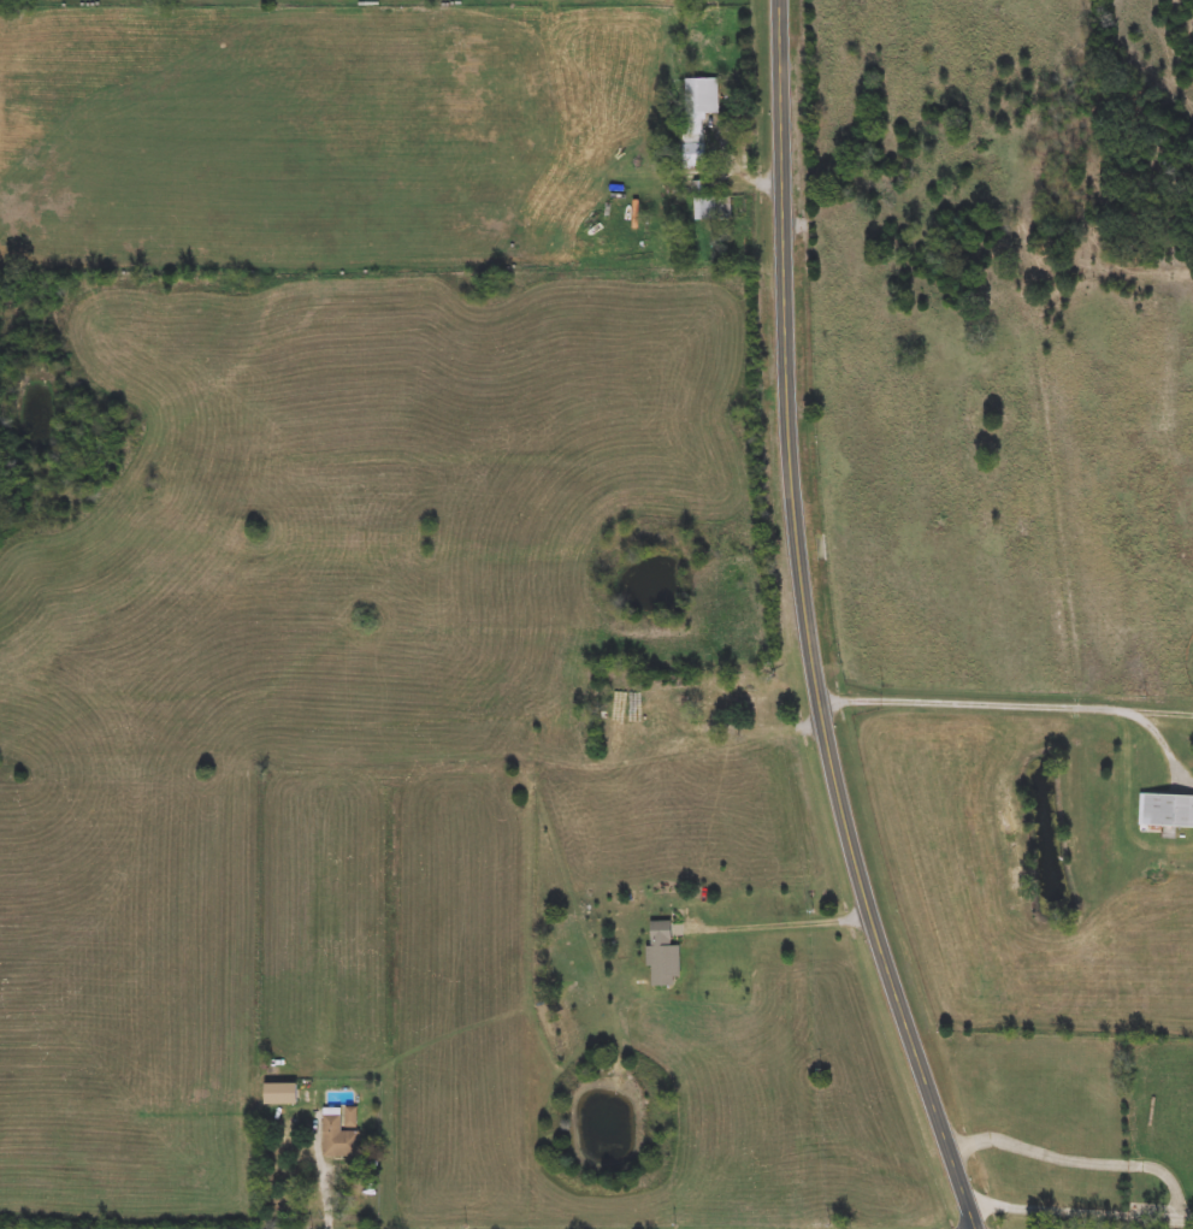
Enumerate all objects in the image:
building: (698, 117)
road: (748, 173)
building: (713, 208)
road: (808, 625)
building: (738, 696)
building: (596, 698)
road: (975, 703)
road: (1162, 713)
road: (1163, 744)
building: (1168, 810)
road: (779, 923)
building: (663, 955)
building: (282, 1094)
building: (338, 1136)
road: (1049, 1153)
road: (321, 1169)
road: (1176, 1187)
road: (1079, 1211)

